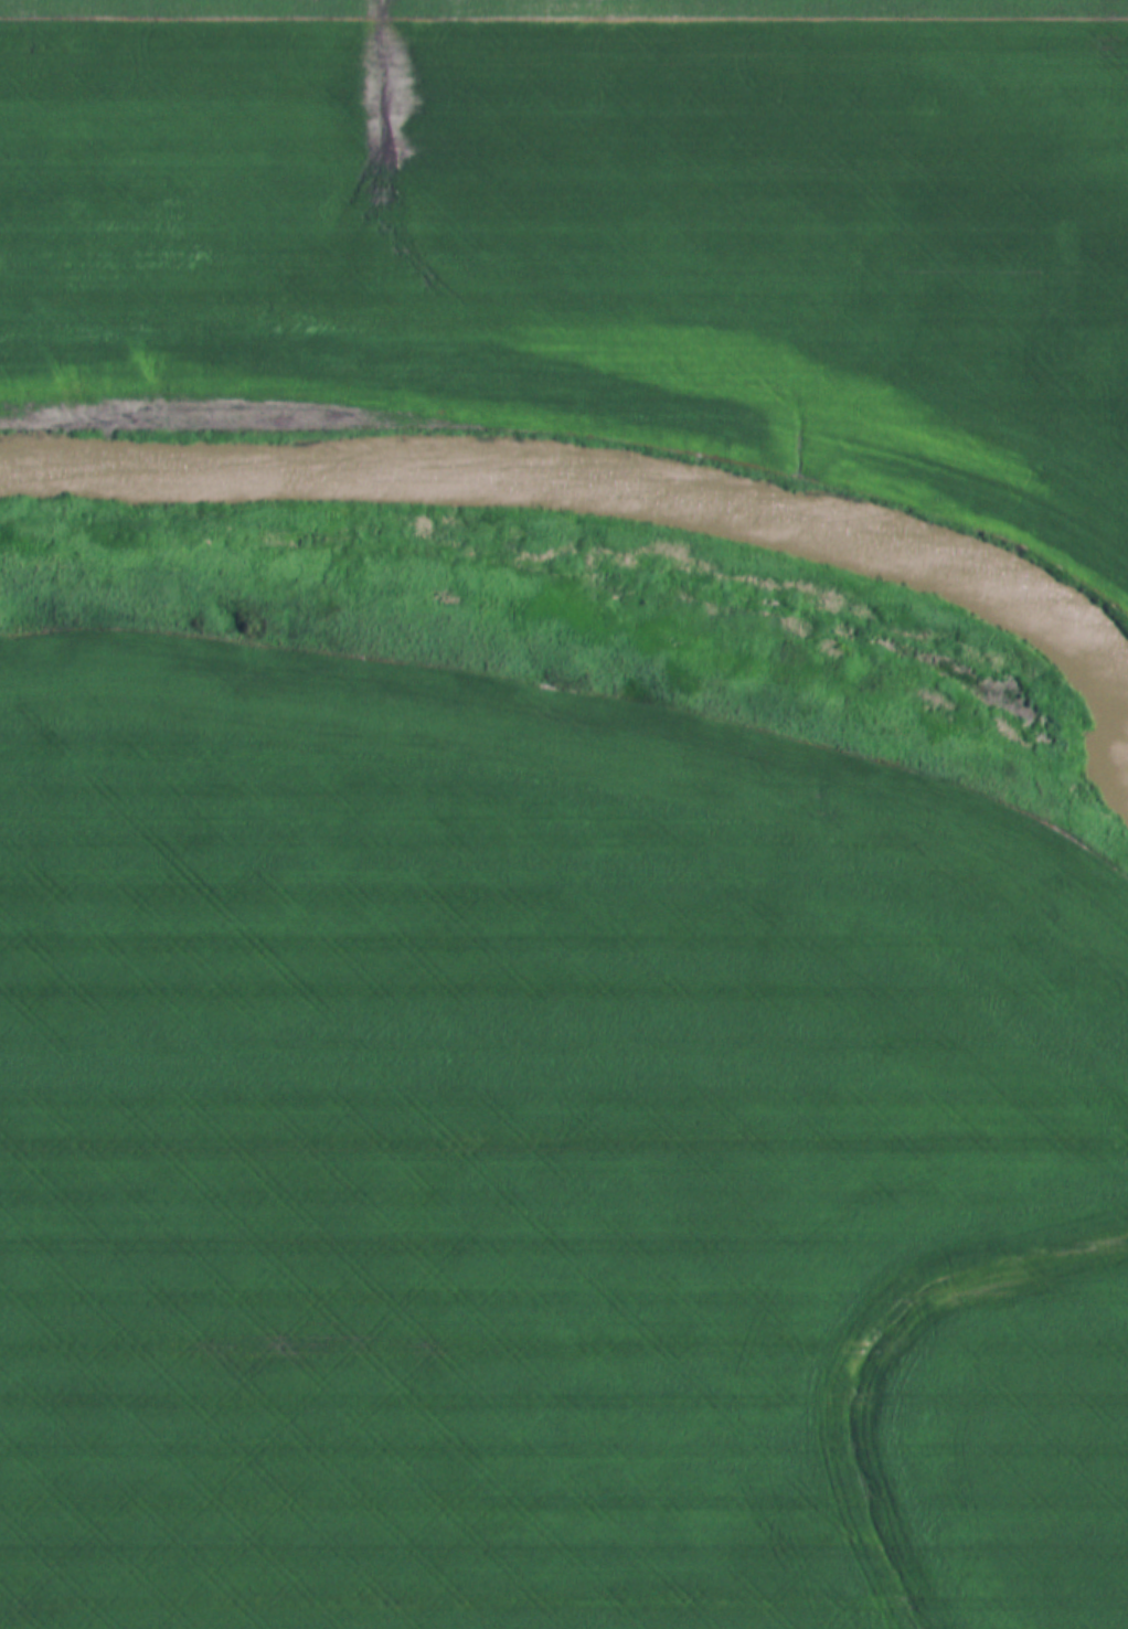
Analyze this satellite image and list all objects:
crop: (582, 6)
crop: (593, 237)
river: (595, 486)
crop: (541, 1165)

